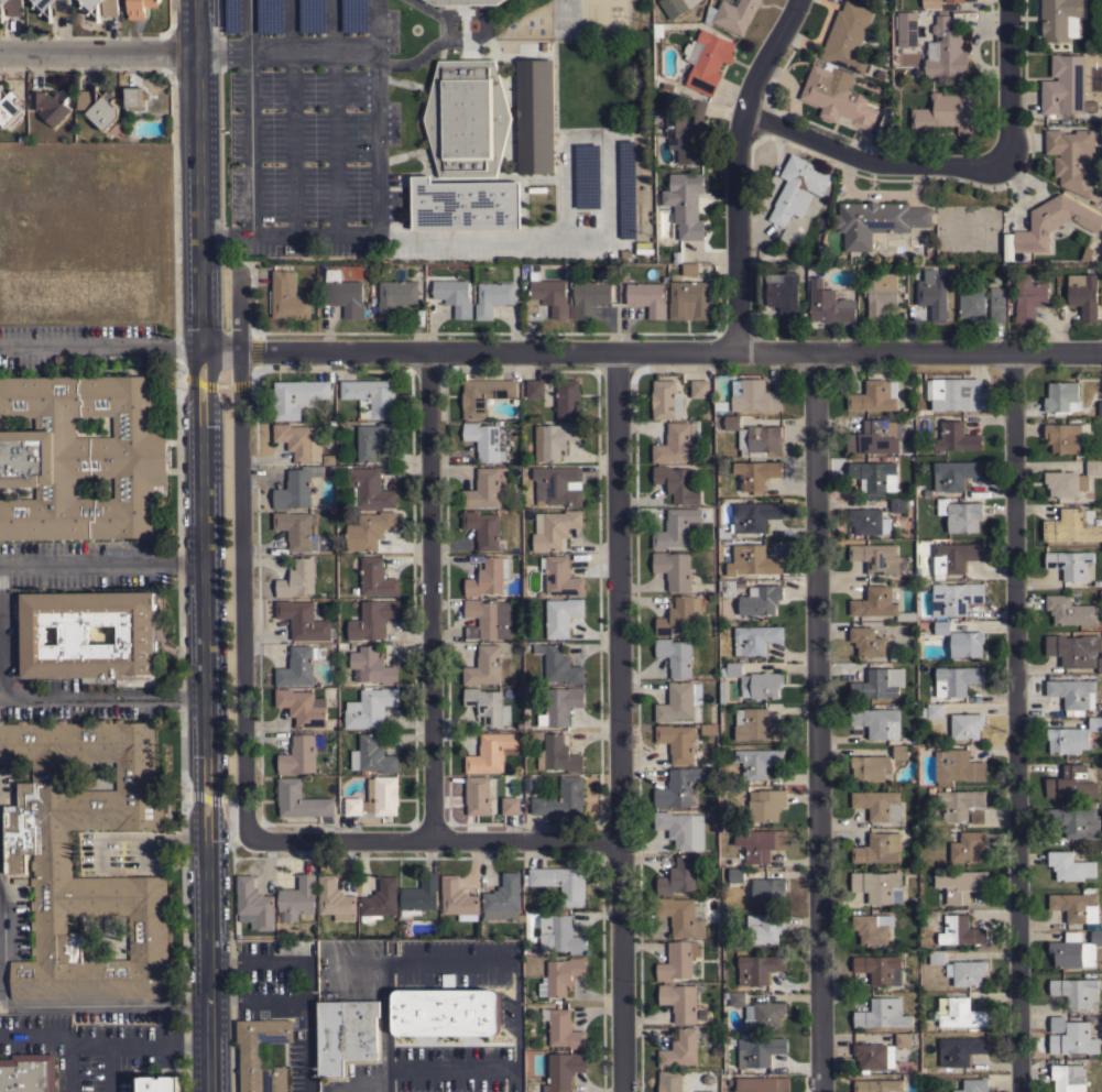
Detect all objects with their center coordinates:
building: (462, 1)
building: (870, 1)
building: (953, 1)
building: (2, 2)
building: (91, 3)
building: (930, 3)
building: (42, 4)
building: (674, 7)
building: (14, 8)
building: (62, 8)
building: (110, 8)
building: (140, 8)
building: (732, 14)
building: (1059, 19)
road: (372, 24)
building: (906, 28)
building: (657, 30)
building: (847, 36)
road: (97, 51)
building: (945, 51)
building: (708, 61)
road: (1006, 79)
building: (1065, 87)
building: (132, 96)
building: (837, 96)
building: (50, 105)
building: (99, 108)
building: (10, 109)
building: (948, 110)
road: (332, 117)
building: (467, 117)
building: (535, 117)
road: (290, 118)
road: (250, 119)
building: (885, 123)
building: (685, 129)
road: (374, 141)
building: (1072, 159)
road: (869, 160)
road: (737, 167)
building: (797, 188)
building: (685, 203)
building: (463, 204)
building: (875, 221)
building: (1052, 221)
road: (610, 229)
building: (1007, 247)
building: (689, 269)
building: (880, 293)
building: (932, 293)
building: (546, 294)
building: (1083, 294)
building: (346, 295)
building: (454, 295)
building: (287, 296)
building: (394, 296)
building: (589, 296)
building: (1028, 296)
building: (492, 297)
building: (647, 297)
building: (785, 297)
building: (690, 299)
building: (828, 304)
building: (971, 304)
building: (996, 304)
road: (99, 345)
road: (651, 349)
building: (534, 387)
building: (700, 389)
building: (959, 394)
building: (483, 395)
building: (754, 395)
building: (874, 395)
building: (296, 396)
building: (371, 397)
building: (567, 397)
building: (1061, 397)
building: (666, 400)
building: (1099, 408)
building: (875, 436)
building: (1065, 436)
building: (754, 437)
building: (956, 437)
building: (373, 439)
building: (554, 439)
building: (299, 440)
building: (484, 440)
building: (677, 444)
building: (79, 457)
building: (755, 473)
building: (953, 473)
building: (875, 476)
building: (1070, 480)
building: (677, 483)
building: (557, 484)
building: (296, 488)
building: (369, 489)
building: (483, 489)
building: (897, 504)
building: (961, 514)
building: (751, 516)
building: (870, 522)
building: (1071, 526)
building: (675, 527)
building: (295, 528)
building: (482, 528)
building: (555, 528)
building: (369, 529)
road: (201, 545)
building: (876, 557)
building: (953, 557)
road: (241, 558)
building: (754, 559)
road: (100, 561)
building: (1070, 564)
building: (673, 568)
building: (488, 576)
building: (560, 576)
building: (377, 578)
building: (297, 579)
building: (729, 587)
road: (0, 591)
road: (432, 594)
building: (956, 598)
building: (761, 599)
building: (877, 603)
building: (1070, 610)
building: (561, 615)
building: (679, 615)
building: (372, 619)
building: (487, 619)
building: (304, 620)
building: (941, 626)
building: (135, 634)
building: (755, 638)
building: (868, 641)
building: (965, 643)
building: (1073, 648)
building: (675, 655)
building: (558, 664)
building: (1100, 665)
building: (297, 666)
building: (371, 666)
building: (484, 666)
building: (956, 679)
building: (756, 680)
building: (879, 682)
building: (530, 694)
building: (1072, 695)
road: (100, 696)
building: (679, 701)
building: (560, 705)
building: (488, 706)
building: (303, 707)
building: (370, 707)
building: (935, 710)
road: (818, 720)
road: (618, 721)
road: (1014, 721)
building: (877, 722)
building: (757, 724)
building: (965, 725)
building: (708, 729)
building: (1071, 736)
building: (678, 743)
building: (899, 751)
building: (491, 752)
building: (557, 754)
building: (298, 755)
building: (372, 755)
building: (757, 761)
building: (957, 766)
building: (870, 767)
building: (530, 783)
building: (1071, 783)
building: (679, 786)
building: (477, 795)
building: (375, 798)
building: (561, 798)
building: (301, 799)
building: (879, 804)
building: (510, 805)
building: (766, 805)
building: (961, 805)
building: (1074, 822)
building: (681, 829)
road: (153, 833)
road: (436, 840)
building: (760, 842)
building: (967, 847)
building: (879, 848)
building: (52, 863)
building: (1069, 866)
building: (735, 874)
building: (677, 876)
building: (560, 882)
building: (961, 884)
building: (877, 886)
building: (767, 891)
building: (418, 895)
building: (296, 898)
building: (458, 898)
building: (503, 898)
building: (335, 899)
building: (379, 900)
building: (253, 904)
building: (1074, 906)
building: (681, 915)
building: (765, 927)
building: (872, 927)
building: (960, 930)
building: (560, 933)
building: (1074, 949)
building: (936, 957)
building: (677, 960)
road: (451, 961)
road: (353, 962)
road: (222, 963)
building: (759, 968)
building: (879, 969)
building: (965, 972)
building: (560, 975)
building: (448, 980)
road: (310, 982)
road: (357, 989)
building: (1074, 991)
building: (737, 997)
building: (678, 1001)
road: (222, 1002)
road: (42, 1003)
building: (445, 1012)
building: (958, 1012)
building: (764, 1014)
building: (882, 1014)
parking lot: (379, 1016)
road: (519, 1016)
building: (1056, 1024)
road: (385, 1027)
building: (561, 1028)
building: (346, 1036)
building: (903, 1039)
building: (1073, 1040)
road: (100, 1042)
building: (258, 1048)
building: (679, 1049)
building: (759, 1050)
building: (959, 1050)
building: (874, 1056)
road: (68, 1067)
road: (110, 1068)
road: (449, 1070)
building: (563, 1070)
building: (28, 1072)
building: (1067, 1078)
building: (275, 1079)
road: (514, 1081)
building: (669, 1081)
building: (156, 1083)
building: (762, 1084)
building: (879, 1085)
building: (973, 1085)
road: (359, 1088)
building: (706, 1091)

